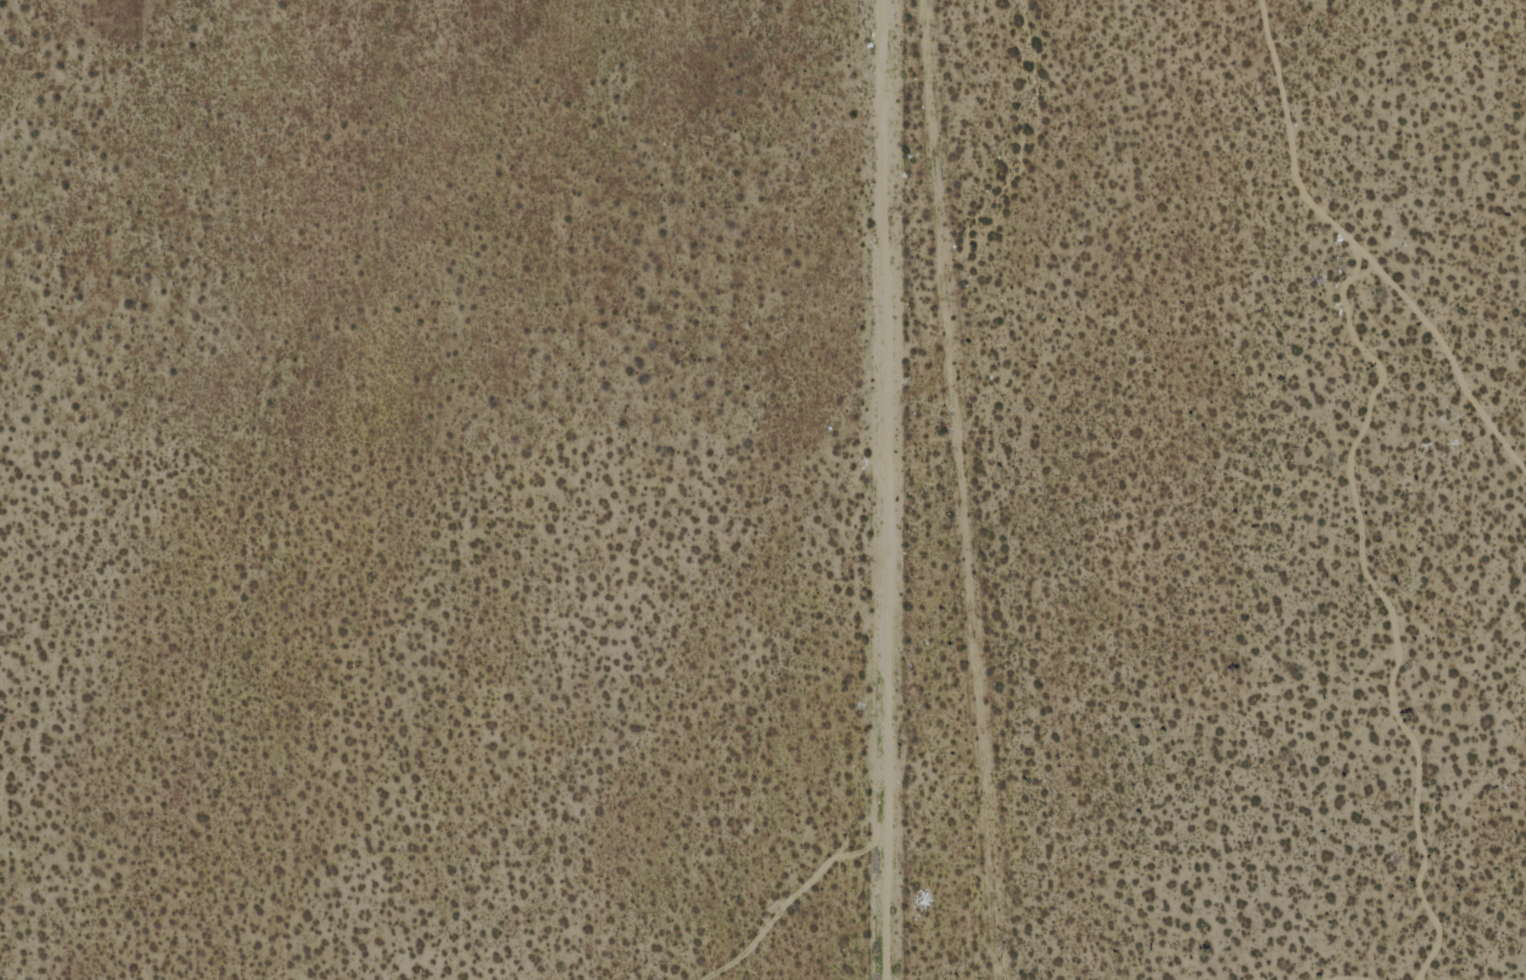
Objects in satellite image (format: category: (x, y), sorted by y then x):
road: (883, 490)

